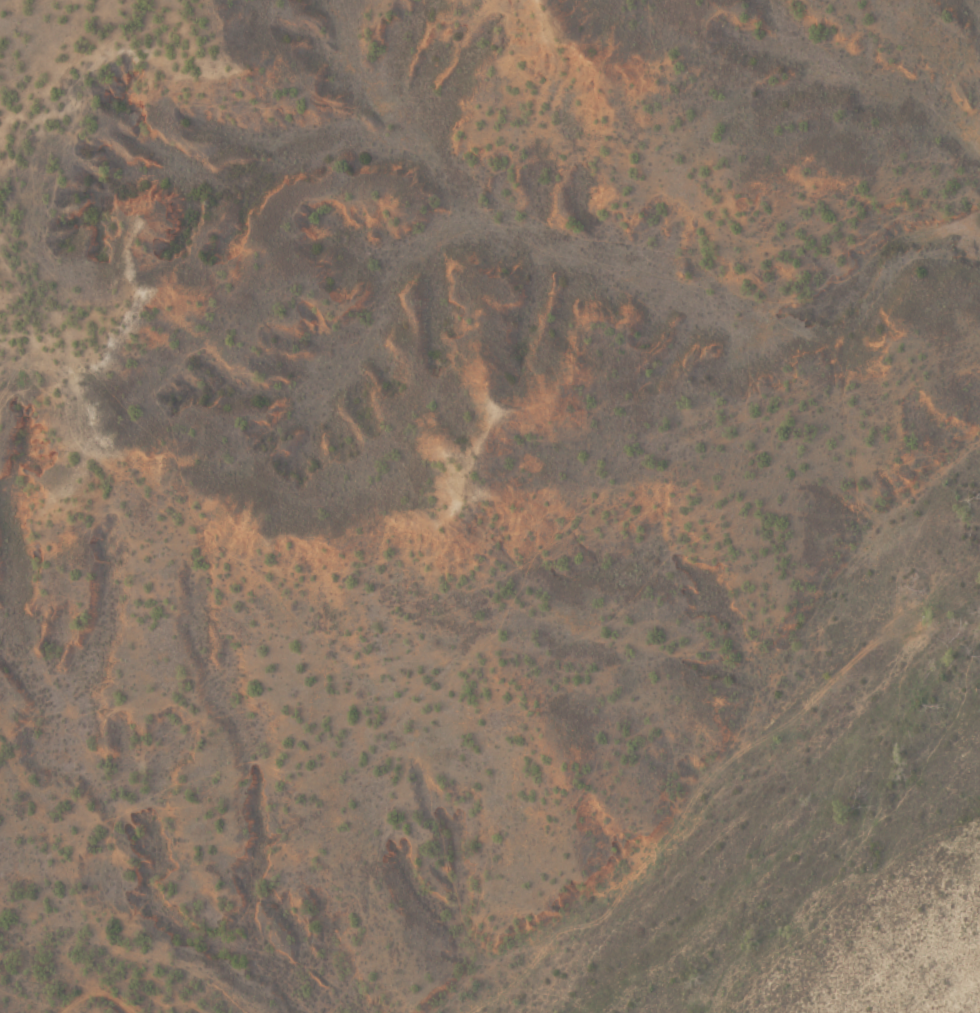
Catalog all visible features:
road: (15, 11)
road: (98, 1010)

